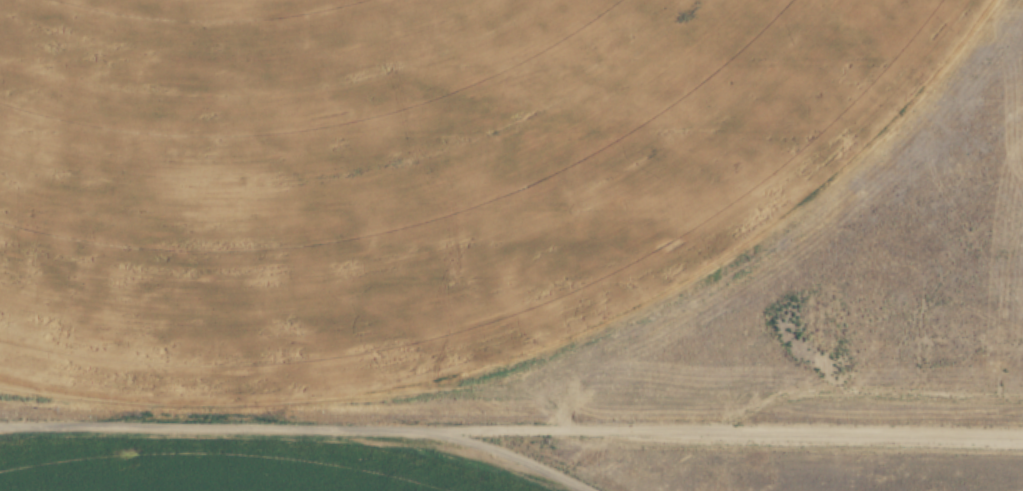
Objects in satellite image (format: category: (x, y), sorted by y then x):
crop: (419, 177)

